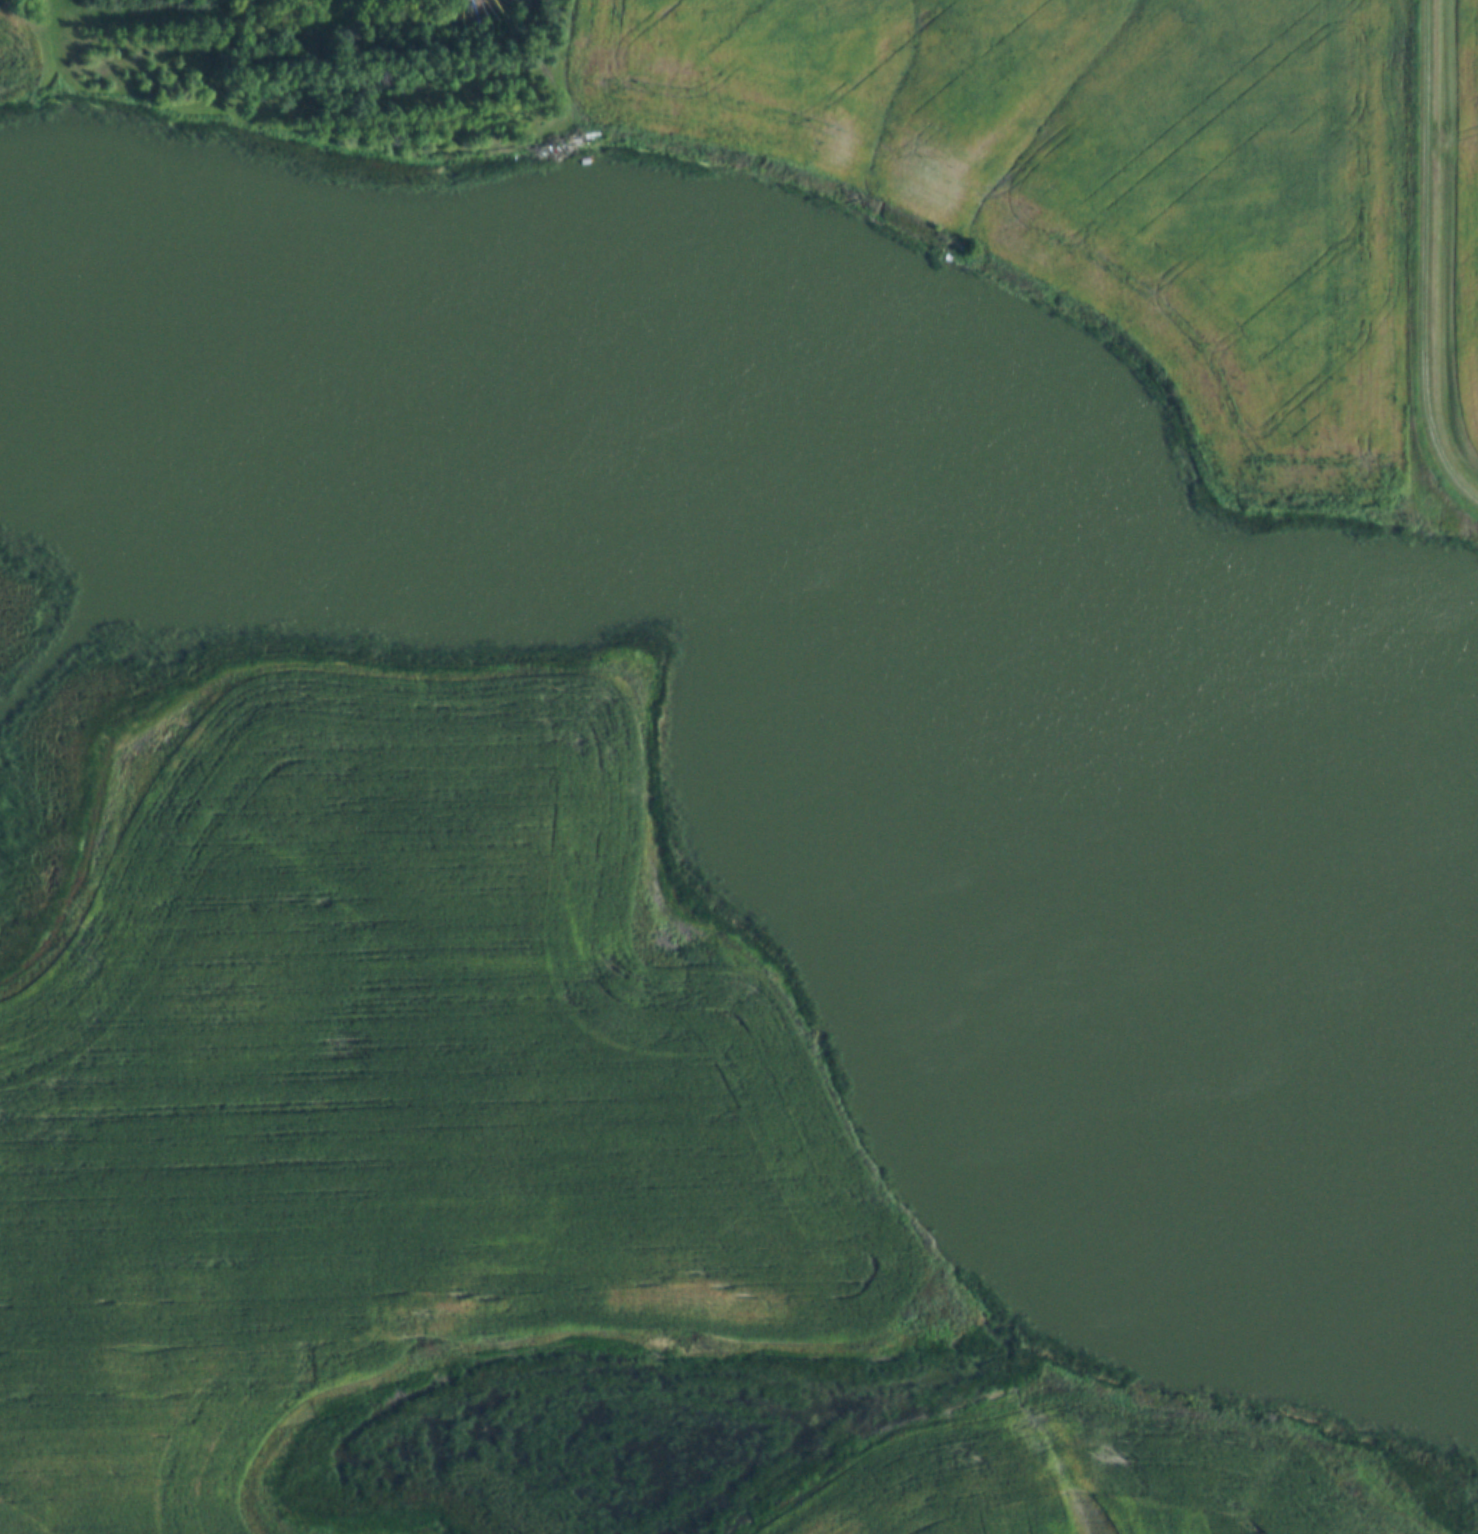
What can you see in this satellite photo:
road: (1429, 255)
road: (622, 1322)
road: (1469, 1477)

